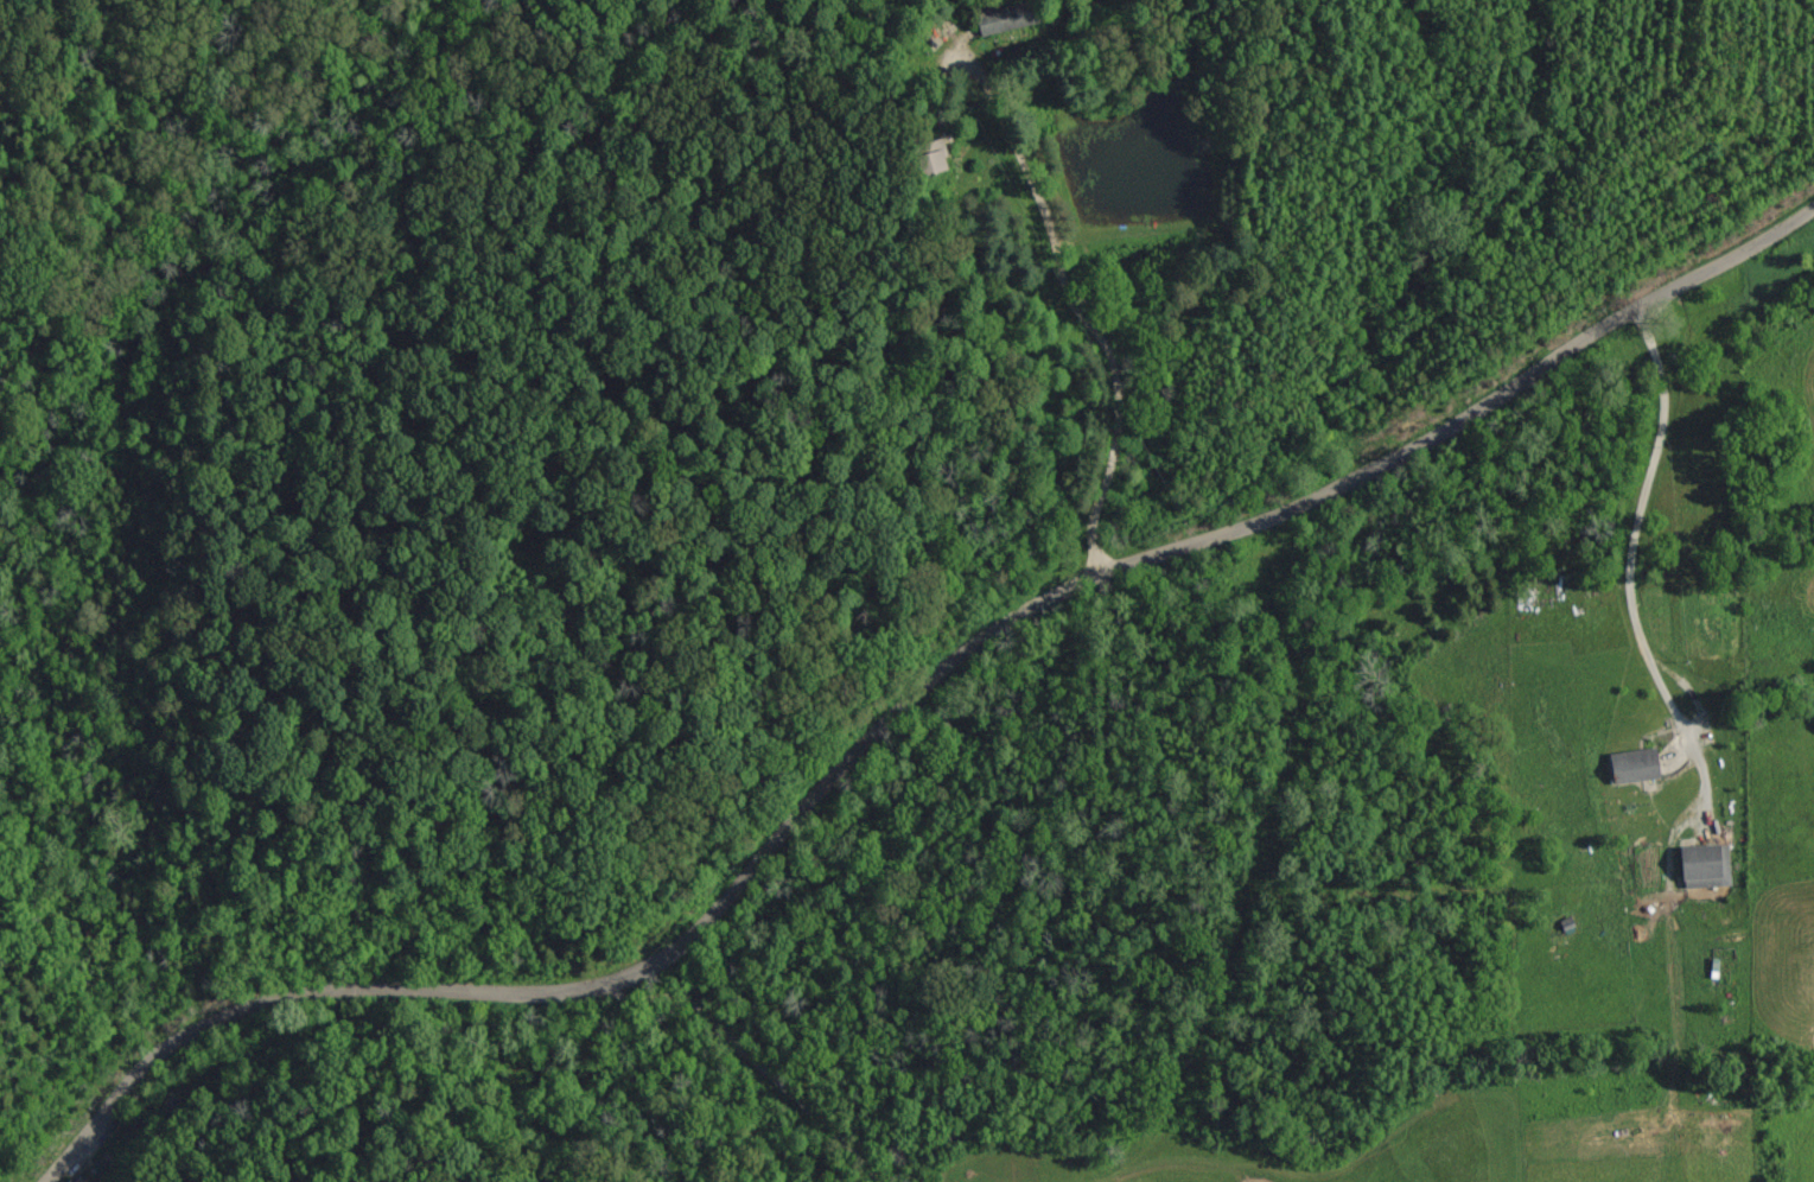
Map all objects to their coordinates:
building: (1003, 21)
road: (902, 704)
road: (438, 706)
building: (1632, 765)
building: (1702, 865)

